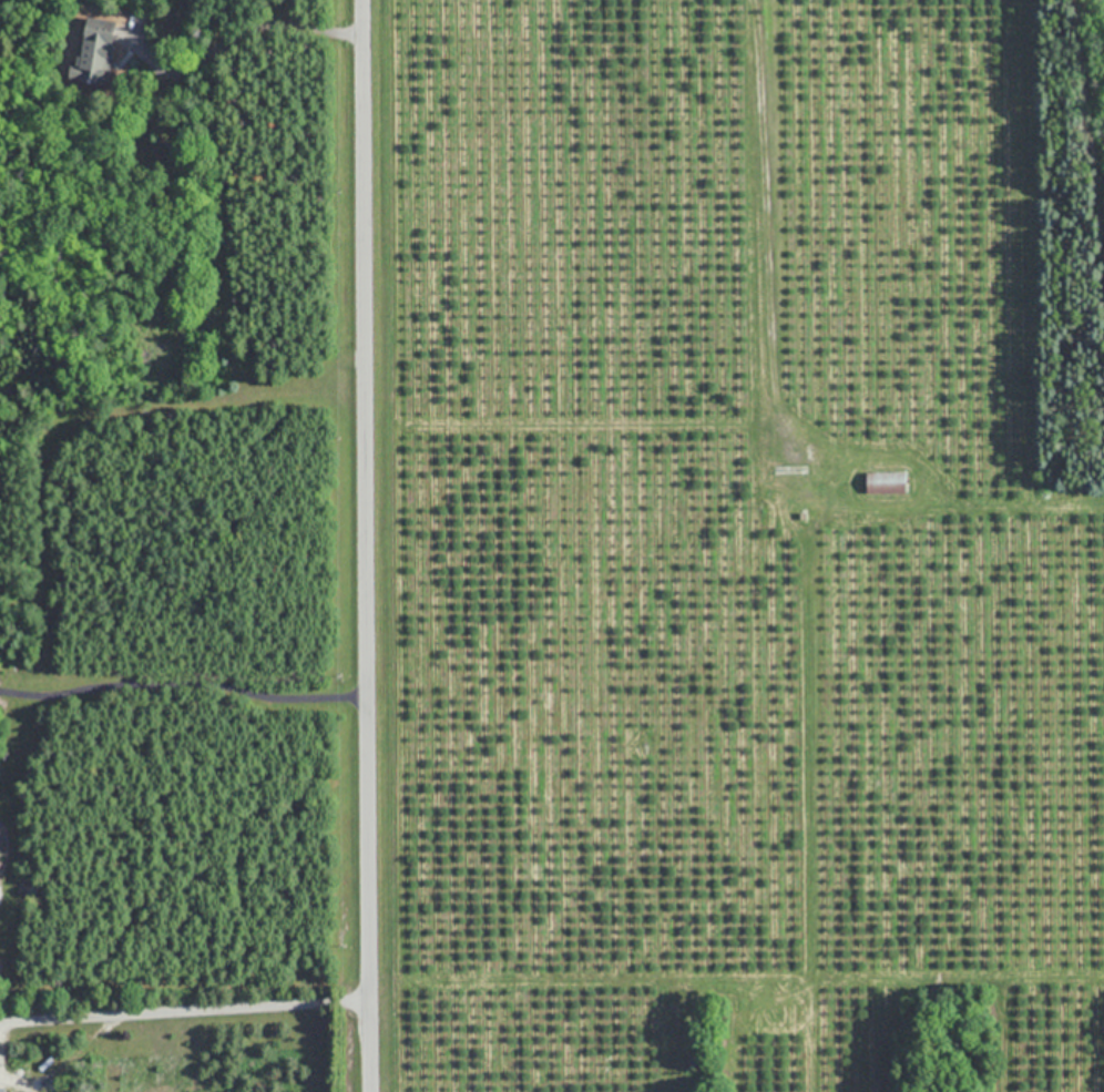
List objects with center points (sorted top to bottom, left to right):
road: (238, 37)
building: (95, 50)
building: (885, 482)
road: (365, 545)
road: (183, 686)
road: (185, 1009)
building: (10, 1089)

